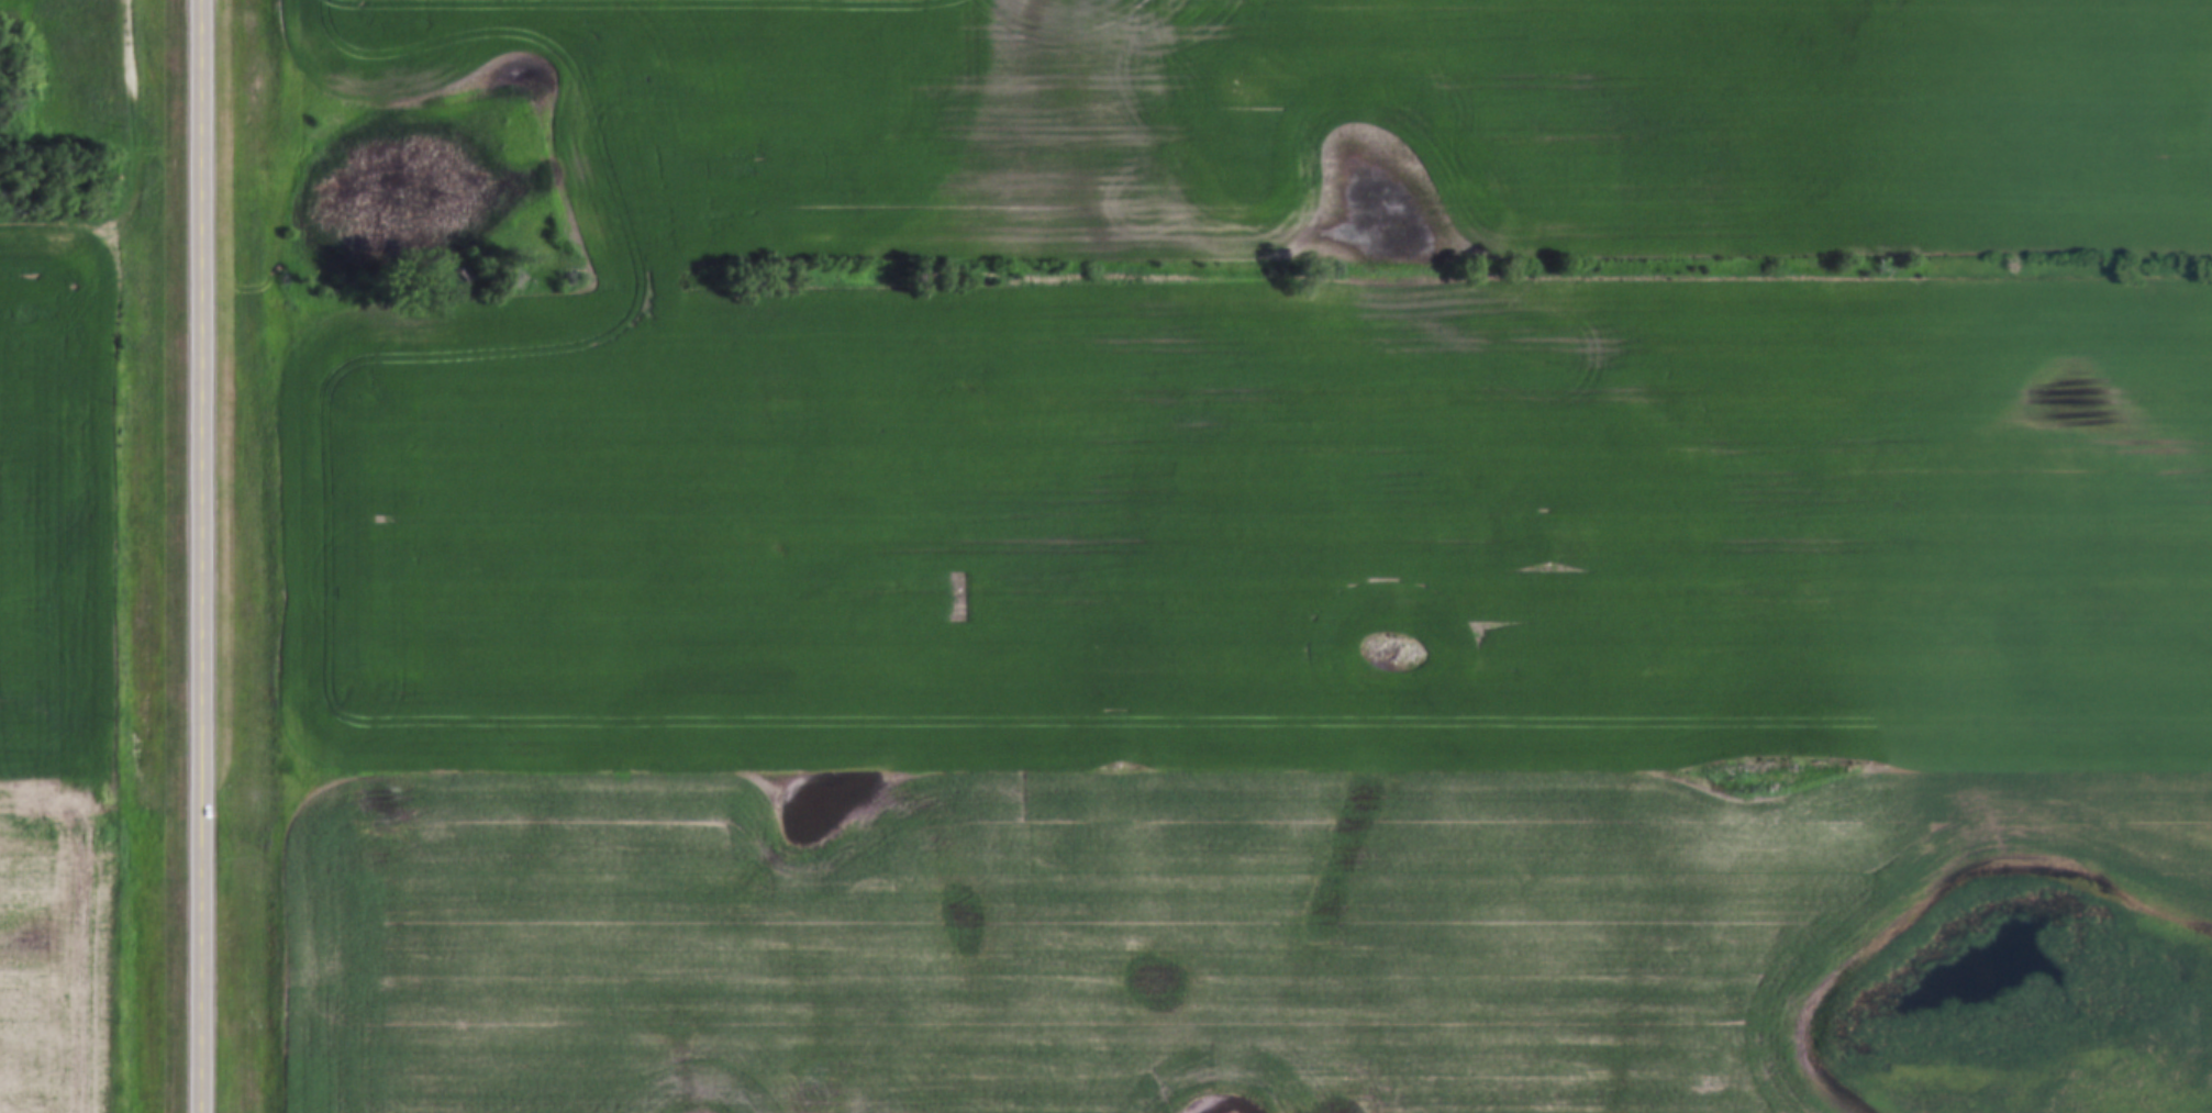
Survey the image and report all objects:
road: (135, 171)
road: (200, 556)

